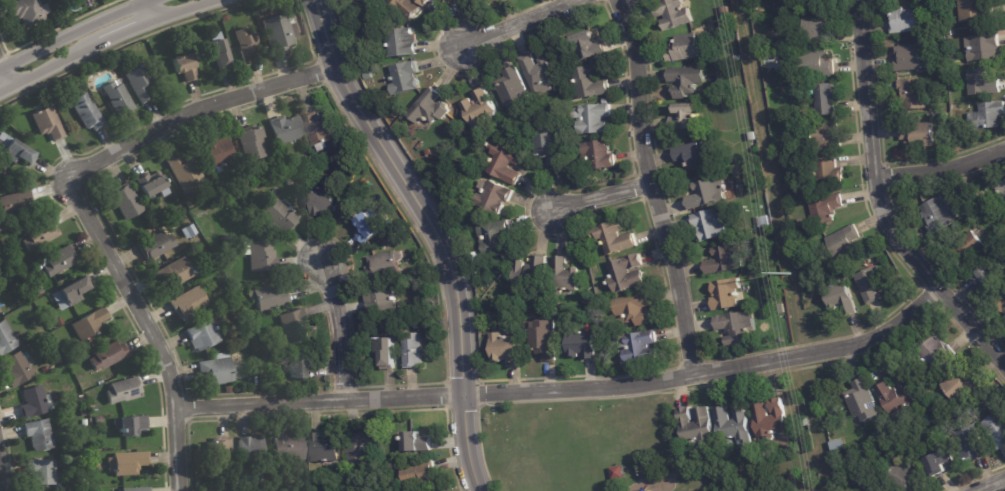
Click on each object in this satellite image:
building: (649, 0)
building: (444, 1)
building: (934, 1)
building: (811, 2)
building: (410, 5)
building: (755, 7)
road: (152, 10)
building: (974, 11)
building: (29, 12)
building: (672, 14)
building: (906, 19)
road: (523, 22)
building: (817, 28)
road: (71, 32)
building: (279, 32)
building: (948, 33)
building: (939, 36)
building: (401, 41)
road: (108, 44)
building: (247, 44)
building: (586, 47)
building: (687, 47)
building: (982, 47)
building: (217, 52)
building: (910, 57)
building: (951, 60)
building: (185, 64)
building: (817, 64)
building: (536, 73)
road: (6, 74)
building: (368, 76)
building: (404, 77)
building: (140, 81)
building: (685, 81)
building: (978, 82)
building: (586, 83)
building: (512, 89)
building: (912, 93)
building: (117, 95)
building: (825, 99)
building: (603, 101)
road: (198, 108)
building: (427, 108)
building: (478, 108)
building: (88, 112)
building: (987, 115)
building: (684, 117)
building: (592, 119)
building: (48, 122)
building: (285, 129)
building: (319, 130)
building: (917, 134)
building: (826, 135)
building: (752, 136)
building: (251, 142)
building: (547, 145)
building: (15, 149)
building: (219, 152)
building: (426, 152)
building: (695, 154)
building: (597, 155)
building: (310, 160)
building: (504, 163)
road: (940, 169)
building: (184, 172)
building: (828, 173)
building: (571, 174)
building: (291, 181)
building: (152, 184)
building: (734, 184)
road: (653, 186)
building: (1002, 189)
building: (707, 195)
building: (493, 196)
road: (602, 197)
building: (321, 199)
building: (15, 201)
building: (126, 201)
road: (878, 208)
building: (825, 209)
building: (939, 213)
building: (159, 219)
building: (280, 220)
building: (763, 221)
building: (3, 225)
building: (369, 225)
building: (710, 225)
building: (188, 231)
road: (436, 233)
building: (40, 234)
building: (493, 236)
building: (613, 238)
building: (843, 241)
building: (156, 245)
building: (966, 250)
building: (262, 255)
building: (58, 260)
building: (723, 261)
building: (381, 267)
building: (33, 269)
building: (174, 272)
building: (529, 273)
building: (625, 274)
building: (263, 275)
building: (563, 276)
building: (984, 280)
building: (30, 283)
building: (871, 285)
building: (38, 292)
building: (72, 292)
building: (725, 294)
building: (269, 296)
building: (765, 297)
building: (840, 297)
building: (381, 299)
building: (1001, 302)
building: (189, 303)
building: (591, 305)
building: (780, 309)
building: (0, 310)
building: (632, 310)
building: (554, 312)
building: (485, 314)
building: (34, 320)
building: (59, 320)
building: (90, 323)
road: (151, 325)
building: (294, 326)
building: (416, 327)
building: (735, 328)
road: (342, 329)
building: (202, 335)
building: (6, 337)
building: (246, 337)
building: (542, 339)
building: (580, 344)
building: (638, 347)
building: (504, 348)
building: (413, 352)
building: (58, 353)
building: (385, 353)
building: (936, 353)
building: (109, 354)
building: (266, 356)
building: (61, 359)
building: (298, 367)
building: (634, 368)
building: (16, 369)
building: (215, 370)
building: (55, 371)
building: (89, 384)
road: (570, 384)
building: (958, 386)
building: (123, 389)
building: (229, 389)
building: (81, 398)
building: (896, 398)
building: (33, 401)
building: (862, 401)
building: (93, 410)
building: (83, 412)
building: (834, 413)
building: (963, 414)
building: (100, 419)
building: (769, 419)
building: (804, 421)
building: (84, 422)
building: (130, 424)
building: (696, 426)
building: (733, 426)
building: (996, 427)
building: (38, 434)
building: (83, 442)
building: (416, 442)
building: (837, 445)
building: (969, 445)
building: (324, 448)
building: (287, 449)
building: (359, 450)
building: (250, 451)
building: (218, 452)
building: (85, 456)
building: (387, 460)
building: (128, 461)
building: (939, 463)
road: (3, 465)
building: (41, 470)
building: (617, 473)
building: (421, 474)
building: (790, 477)
building: (901, 477)
road: (987, 483)
building: (136, 488)
building: (700, 490)

